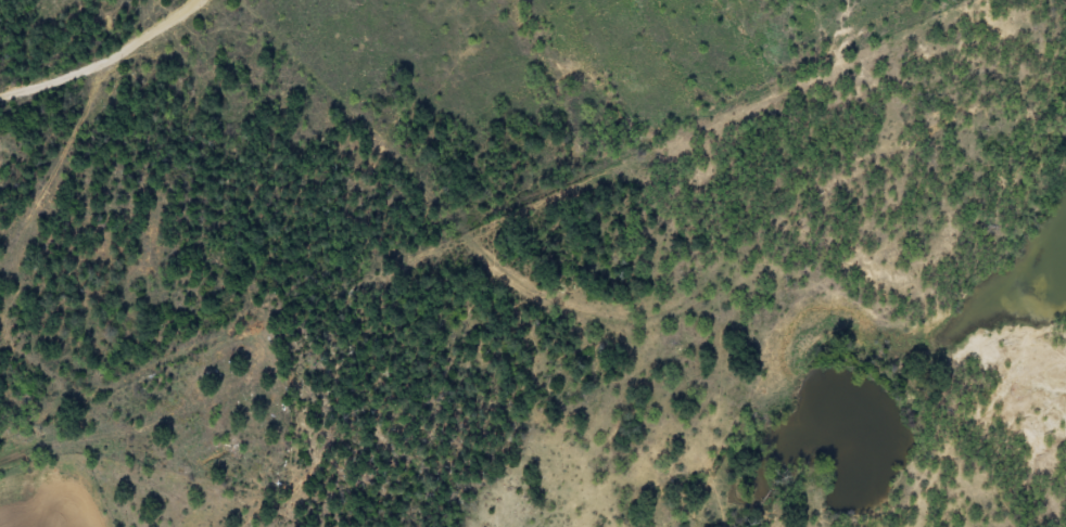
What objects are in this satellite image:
road: (259, 26)
road: (541, 280)

